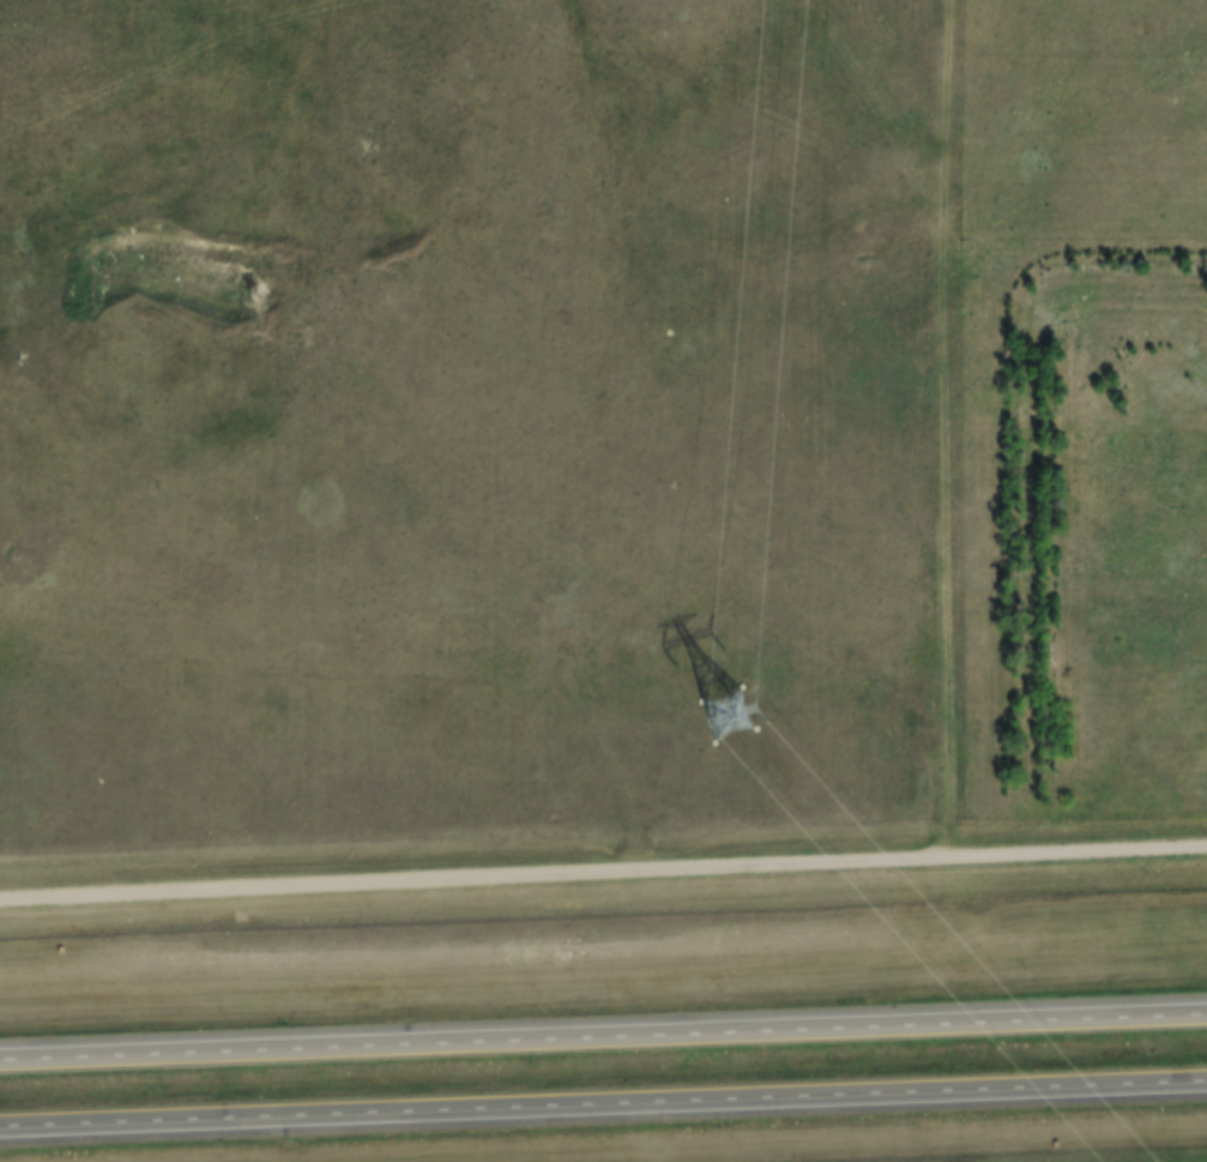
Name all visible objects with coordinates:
power tower: (728, 717)
road: (603, 875)
road: (603, 1041)
road: (603, 1104)

